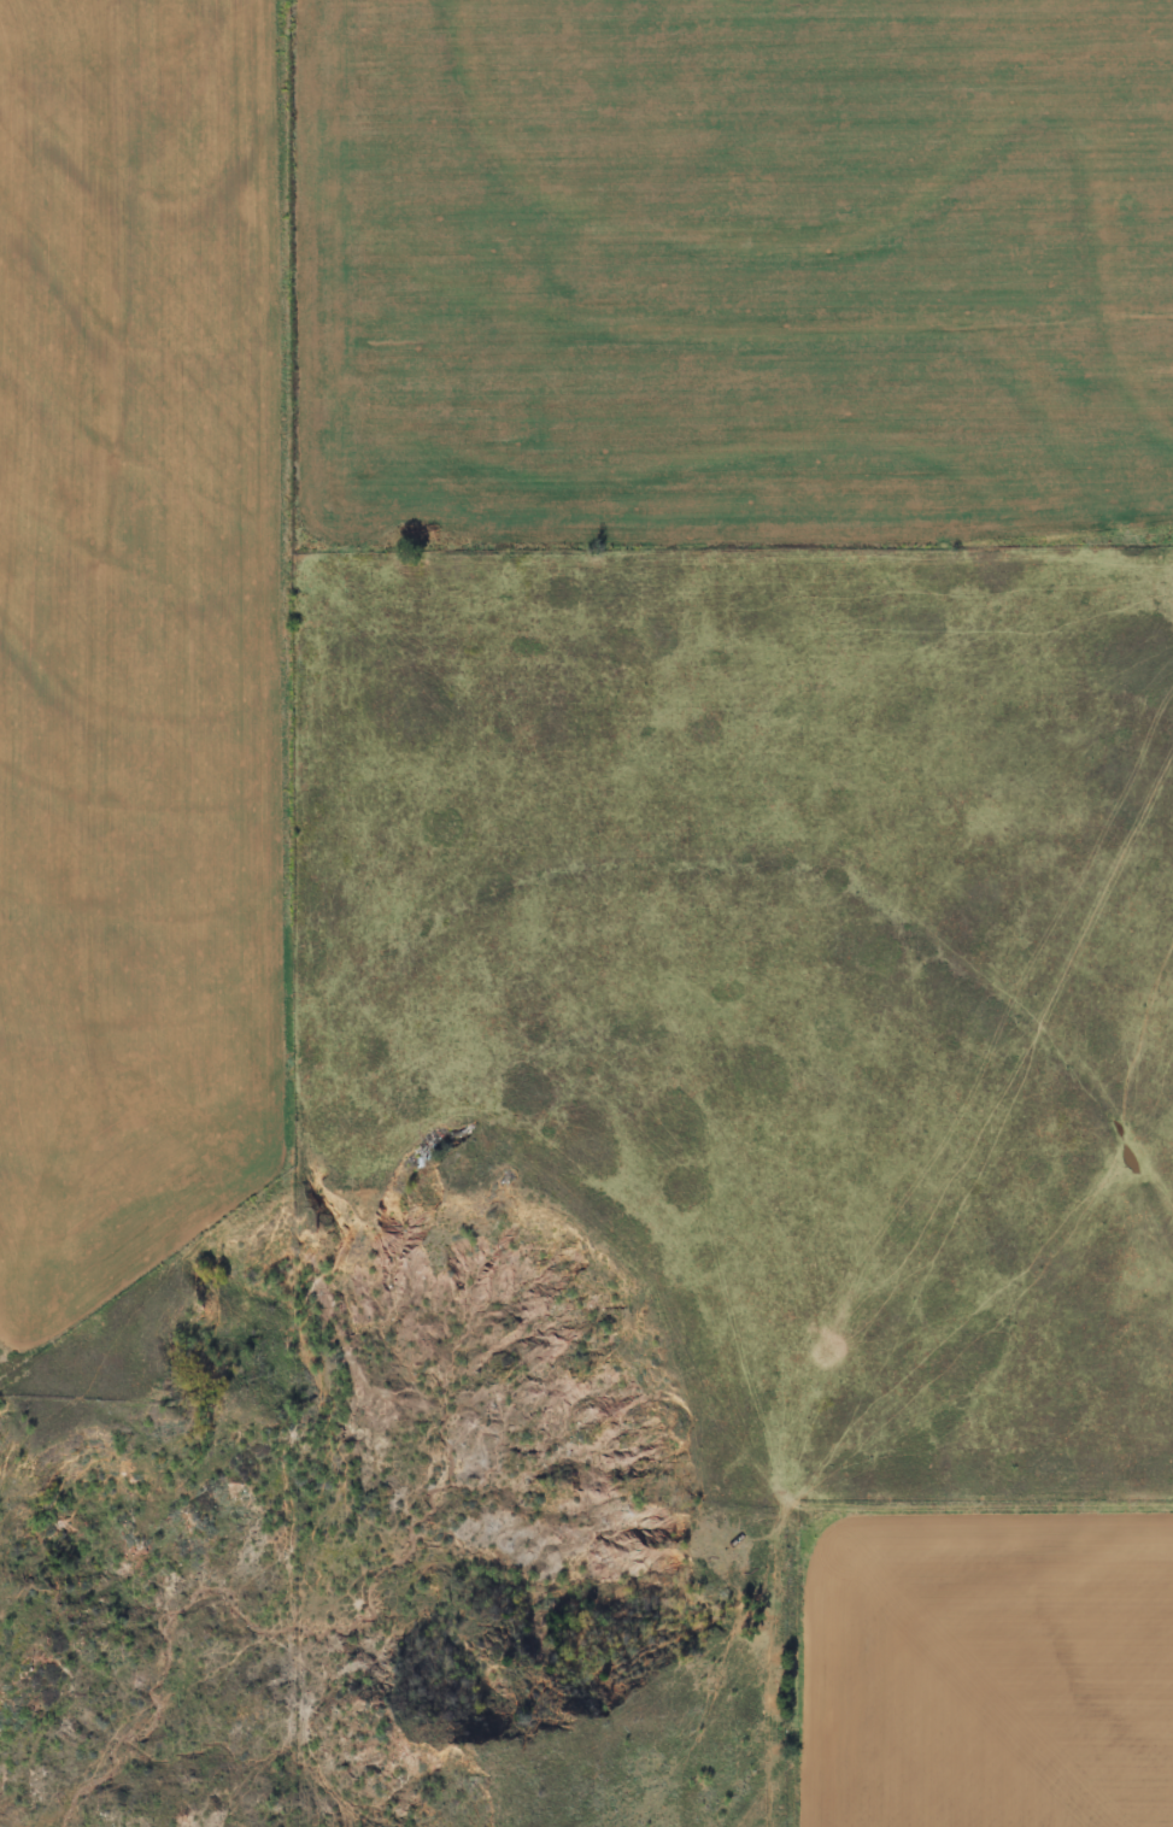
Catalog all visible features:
road: (854, 1576)

